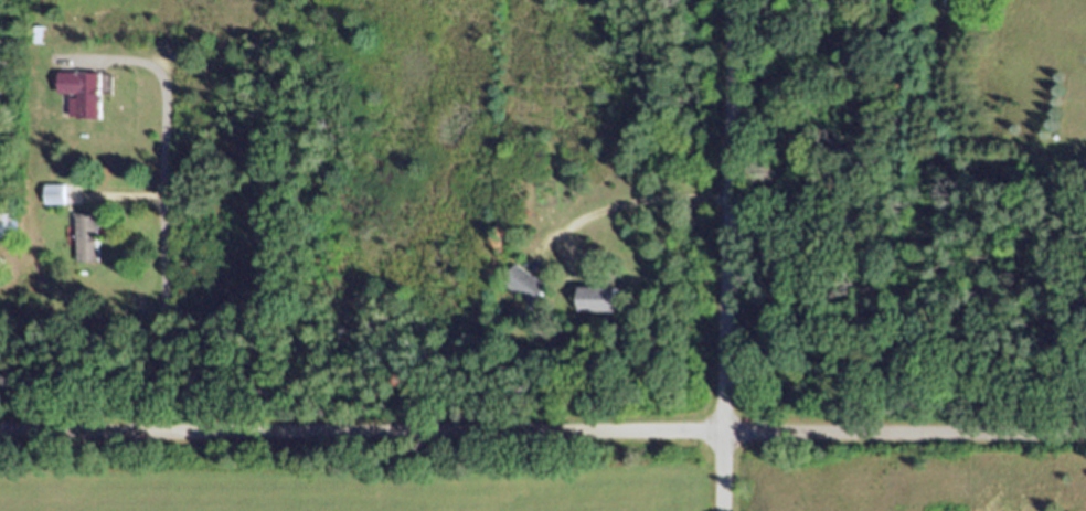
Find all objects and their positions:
building: (87, 100)
road: (159, 200)
building: (58, 202)
road: (624, 202)
building: (10, 233)
building: (91, 246)
road: (723, 255)
building: (529, 292)
building: (603, 307)
road: (543, 429)

